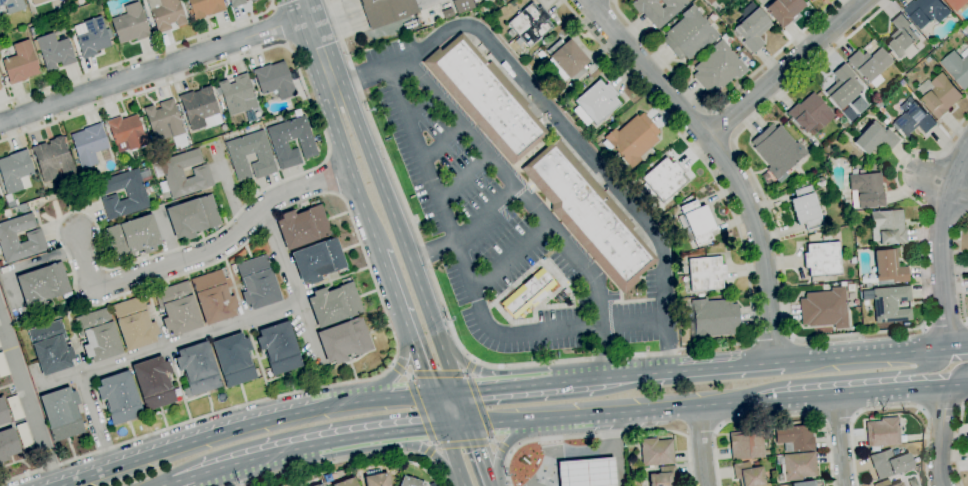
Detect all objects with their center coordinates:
building: (251, 0)
building: (485, 0)
road: (611, 0)
building: (810, 0)
building: (709, 1)
building: (38, 2)
building: (236, 3)
building: (512, 4)
building: (958, 4)
building: (11, 5)
building: (446, 5)
building: (462, 5)
building: (204, 8)
building: (658, 10)
building: (784, 10)
building: (386, 11)
building: (928, 11)
building: (166, 13)
building: (447, 13)
road: (335, 16)
building: (130, 23)
building: (528, 25)
road: (278, 26)
building: (752, 29)
building: (20, 30)
building: (689, 34)
building: (91, 37)
building: (903, 37)
building: (550, 41)
building: (933, 41)
road: (318, 45)
building: (53, 51)
building: (540, 54)
road: (139, 56)
building: (929, 59)
building: (566, 60)
building: (21, 63)
building: (869, 65)
building: (958, 67)
building: (718, 68)
road: (154, 69)
road: (784, 69)
building: (274, 81)
building: (571, 85)
building: (0, 86)
building: (843, 87)
building: (236, 94)
building: (940, 94)
building: (485, 98)
building: (558, 98)
building: (595, 103)
road: (419, 104)
road: (719, 104)
building: (221, 105)
building: (200, 108)
building: (809, 114)
building: (249, 116)
building: (914, 120)
building: (163, 121)
road: (559, 122)
building: (885, 122)
building: (103, 125)
building: (107, 133)
building: (127, 133)
building: (853, 133)
building: (631, 139)
building: (874, 139)
road: (442, 142)
building: (88, 144)
building: (306, 144)
building: (778, 151)
building: (138, 153)
building: (264, 158)
building: (53, 159)
building: (116, 159)
road: (720, 162)
road: (350, 171)
building: (15, 174)
building: (182, 174)
road: (462, 178)
building: (663, 180)
road: (943, 185)
road: (516, 187)
building: (865, 190)
road: (230, 193)
building: (135, 194)
building: (805, 206)
parking lot: (465, 210)
road: (484, 214)
building: (589, 215)
building: (192, 217)
building: (697, 222)
building: (302, 227)
building: (887, 228)
building: (34, 237)
building: (133, 237)
road: (401, 237)
road: (941, 246)
road: (432, 252)
road: (202, 254)
road: (507, 254)
road: (278, 255)
building: (822, 259)
building: (318, 260)
building: (889, 267)
road: (960, 267)
building: (706, 273)
building: (257, 282)
road: (468, 282)
building: (42, 284)
building: (835, 284)
building: (842, 284)
building: (528, 294)
building: (213, 297)
road: (92, 304)
building: (334, 304)
building: (890, 304)
building: (177, 309)
building: (824, 309)
building: (712, 319)
road: (405, 322)
building: (134, 324)
parking lot: (581, 325)
road: (945, 325)
road: (788, 331)
building: (98, 335)
building: (344, 340)
road: (771, 341)
building: (68, 343)
road: (165, 343)
road: (5, 346)
building: (50, 347)
road: (959, 347)
building: (279, 348)
road: (605, 352)
road: (861, 355)
road: (619, 356)
road: (400, 358)
building: (233, 359)
road: (922, 365)
building: (3, 366)
road: (470, 366)
building: (197, 368)
road: (399, 369)
road: (679, 371)
road: (486, 372)
road: (437, 374)
road: (962, 376)
road: (568, 381)
building: (153, 383)
road: (933, 386)
road: (503, 387)
traffic signals: (458, 392)
road: (445, 393)
traffic signals: (432, 394)
road: (824, 394)
building: (119, 398)
road: (27, 401)
road: (892, 406)
road: (480, 407)
road: (942, 407)
building: (15, 408)
road: (463, 408)
road: (420, 410)
road: (438, 411)
road: (609, 412)
building: (3, 413)
building: (61, 413)
road: (774, 417)
road: (16, 422)
traffic signals: (469, 425)
road: (243, 426)
road: (456, 426)
traffic signals: (444, 428)
building: (882, 432)
road: (604, 434)
road: (941, 434)
building: (24, 435)
building: (794, 438)
road: (840, 440)
road: (508, 442)
road: (400, 443)
road: (463, 443)
road: (958, 443)
building: (7, 444)
building: (745, 445)
road: (306, 446)
road: (501, 446)
road: (701, 446)
road: (429, 452)
road: (581, 452)
building: (656, 452)
road: (480, 455)
road: (454, 457)
road: (346, 459)
road: (18, 462)
building: (889, 463)
road: (618, 464)
building: (796, 466)
road: (546, 467)
building: (584, 472)
gas station: (584, 472)
building: (747, 474)
building: (662, 476)
building: (376, 480)
building: (345, 482)
building: (409, 482)
building: (802, 483)
building: (885, 483)
road: (166, 484)
building: (318, 484)
building: (280, 485)

